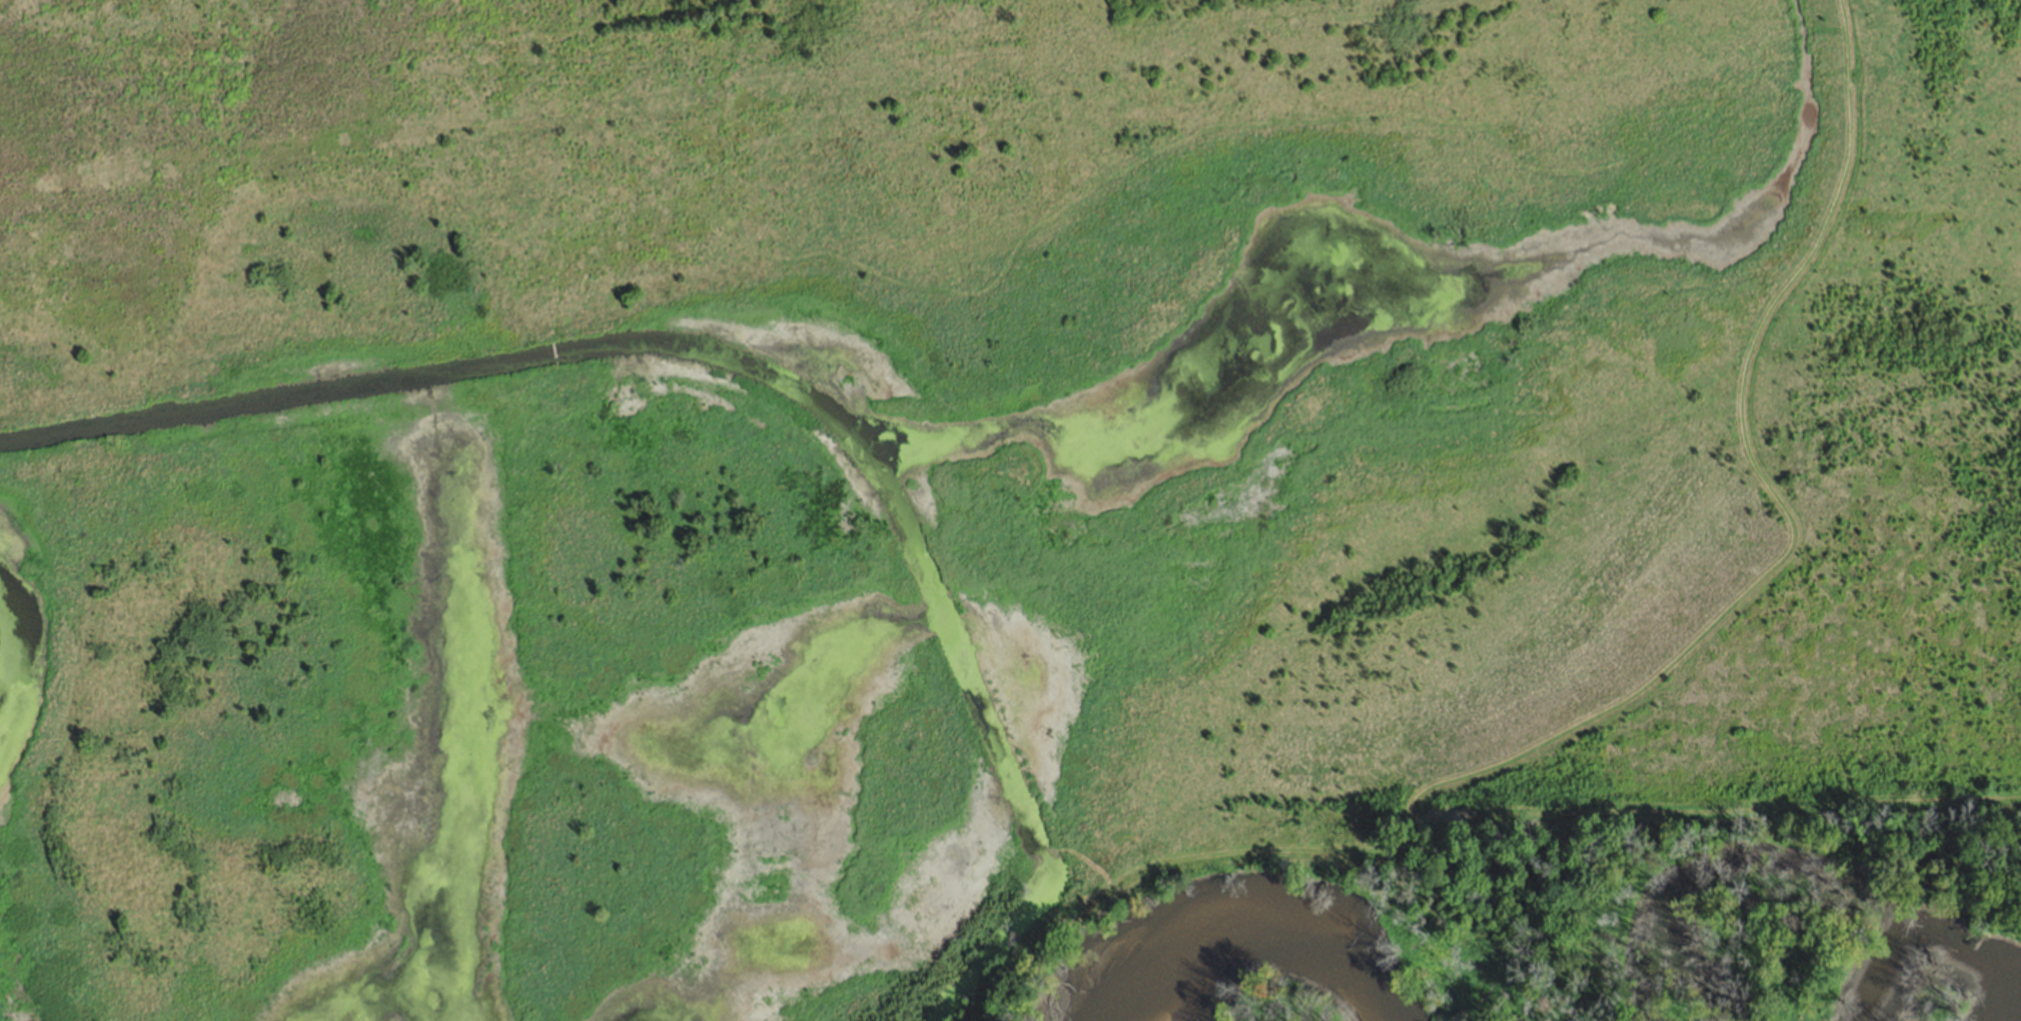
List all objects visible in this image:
road: (1636, 688)
river: (1257, 924)

